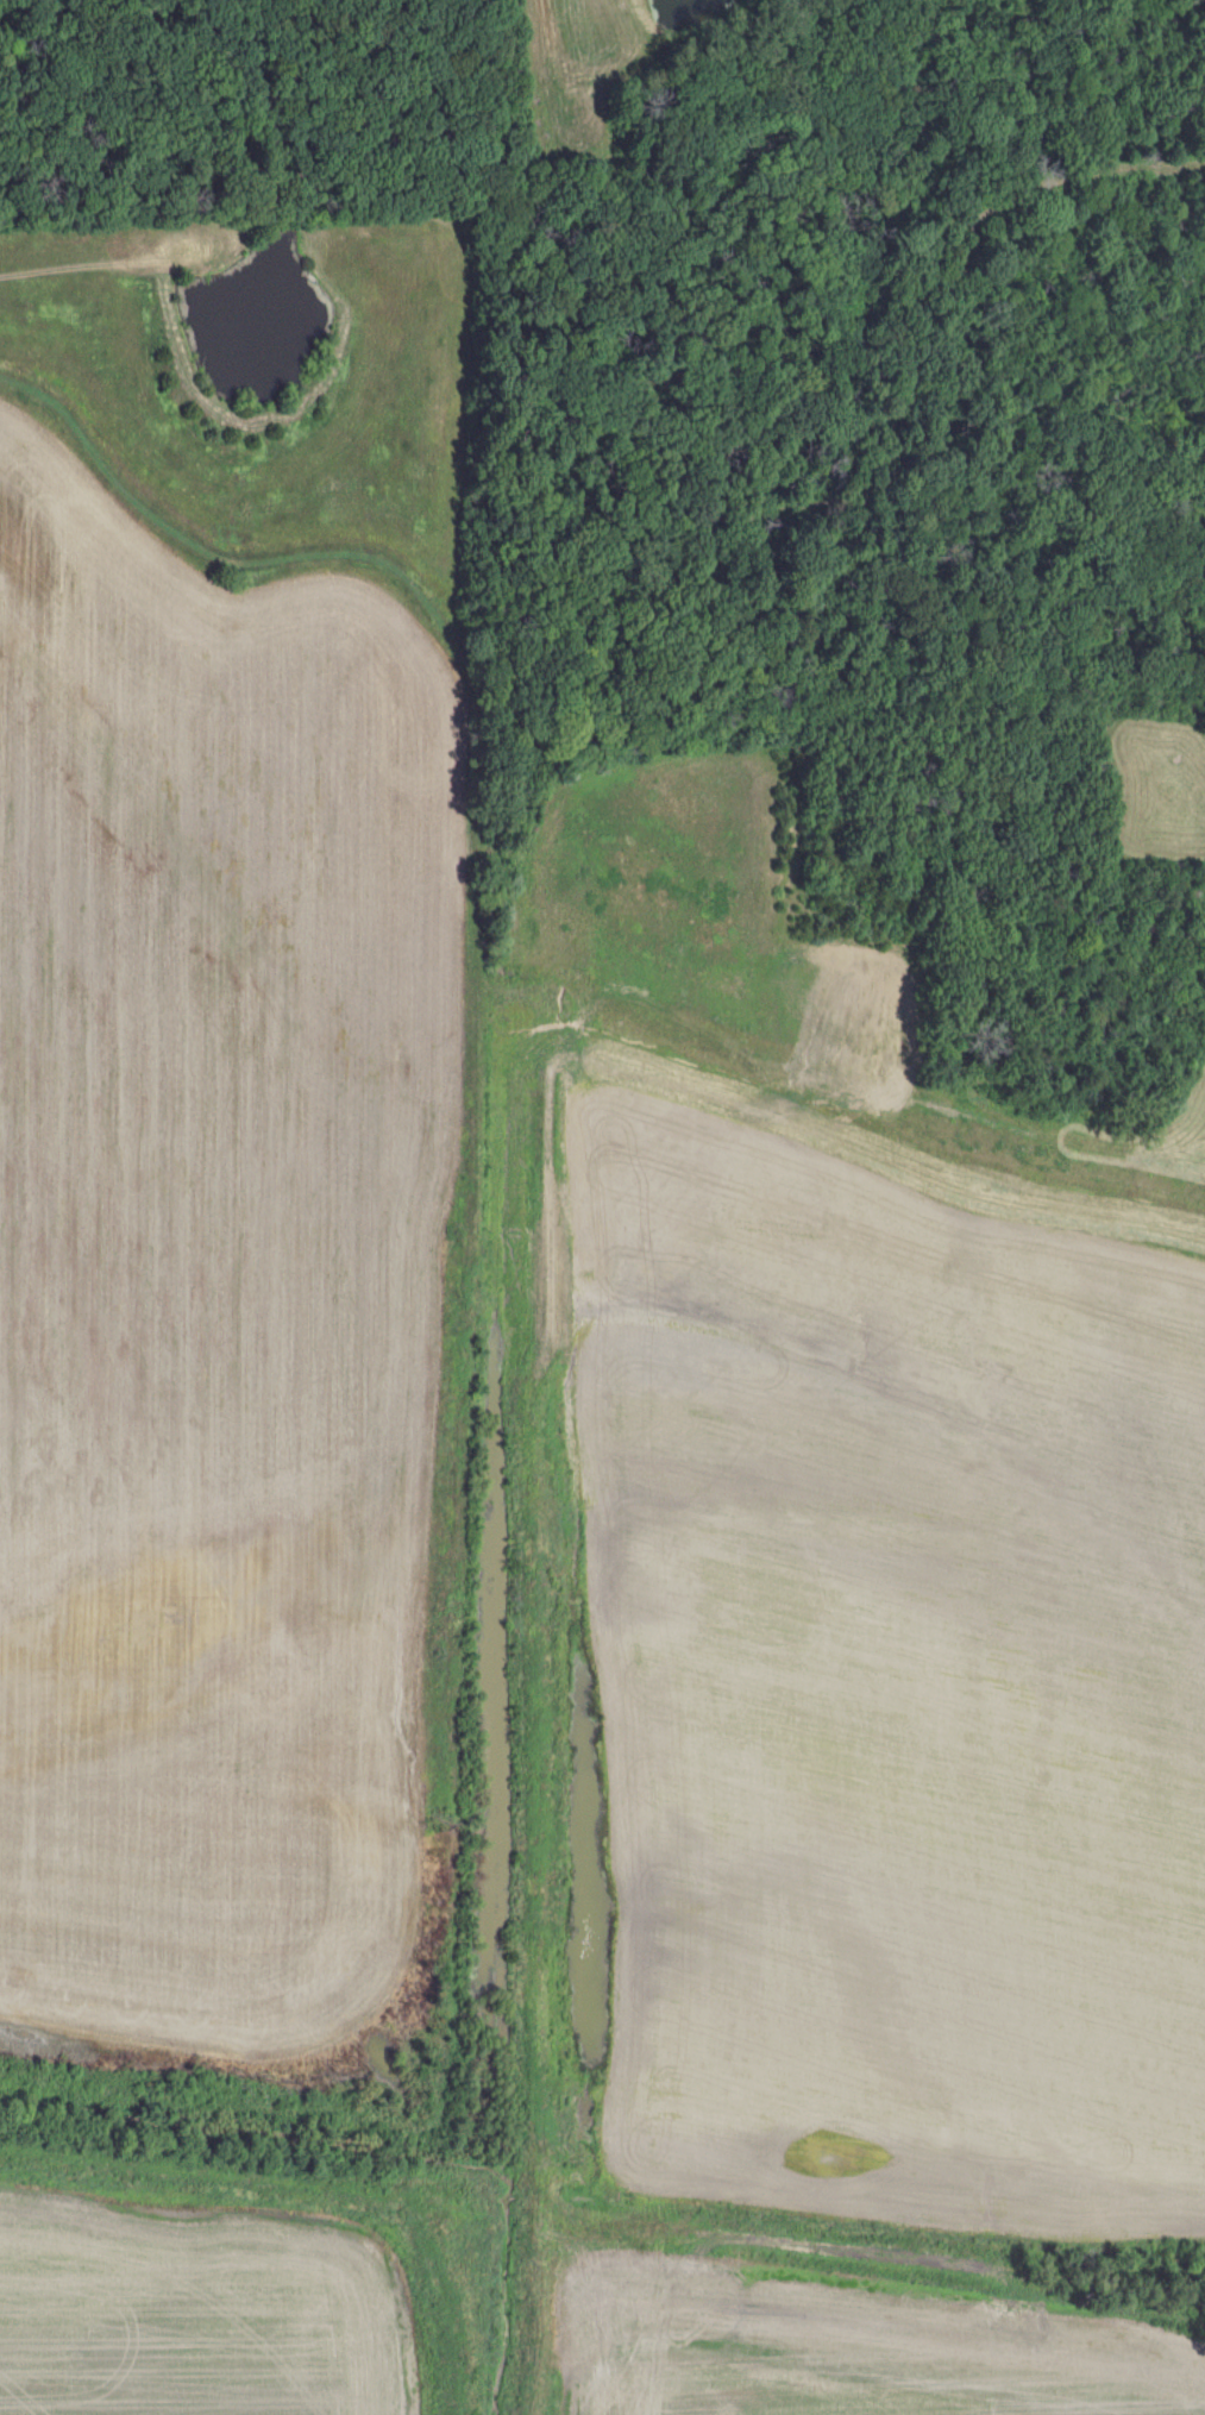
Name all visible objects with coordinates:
crop: (215, 1274)
crop: (866, 1533)
crop: (184, 2323)
crop: (849, 2348)

